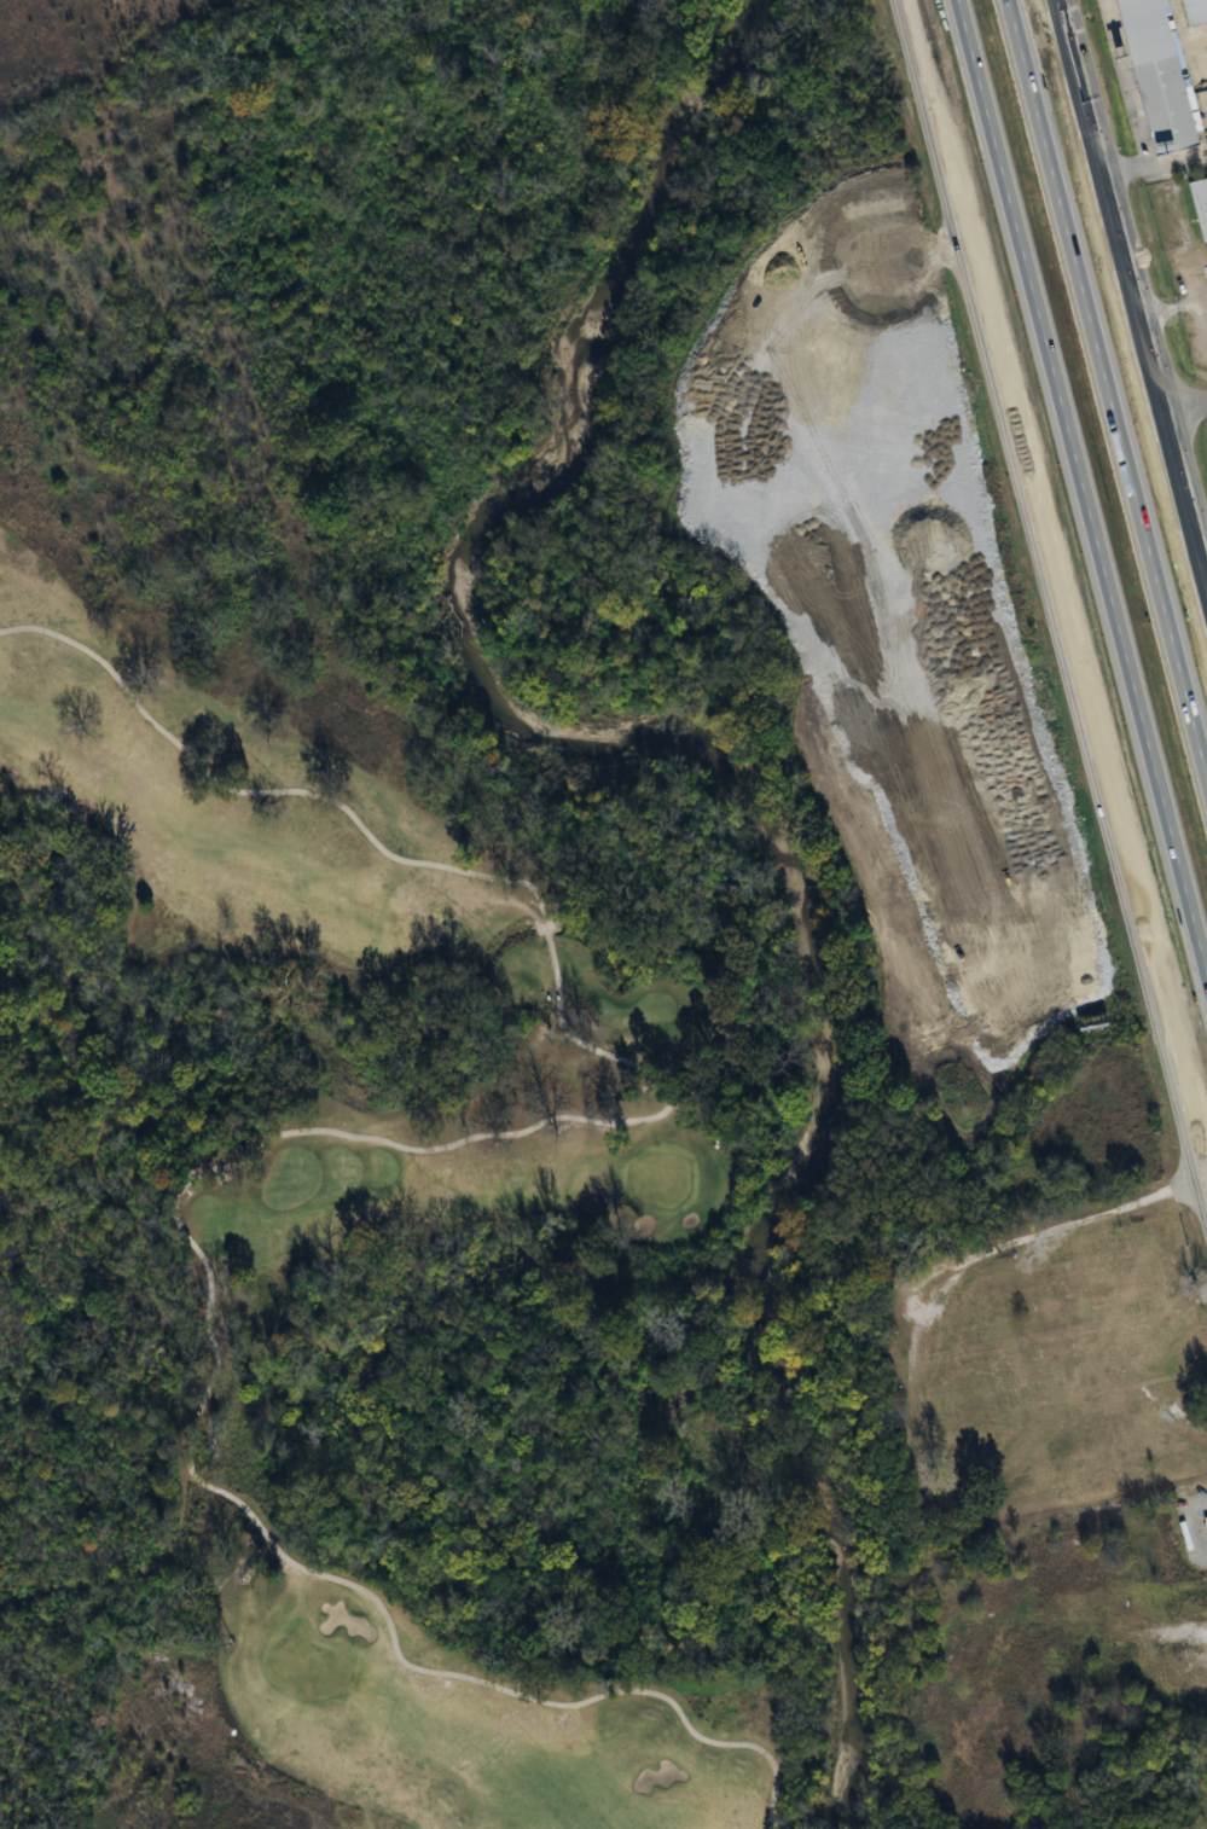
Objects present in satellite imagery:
building: (1194, 12)
building: (1156, 76)
road: (1125, 81)
road: (1160, 163)
building: (1199, 203)
road: (1138, 268)
road: (1128, 304)
road: (1190, 405)
road: (1054, 552)
road: (1051, 606)
road: (454, 869)
road: (233, 1499)
building: (1205, 1520)
road: (1194, 1521)

